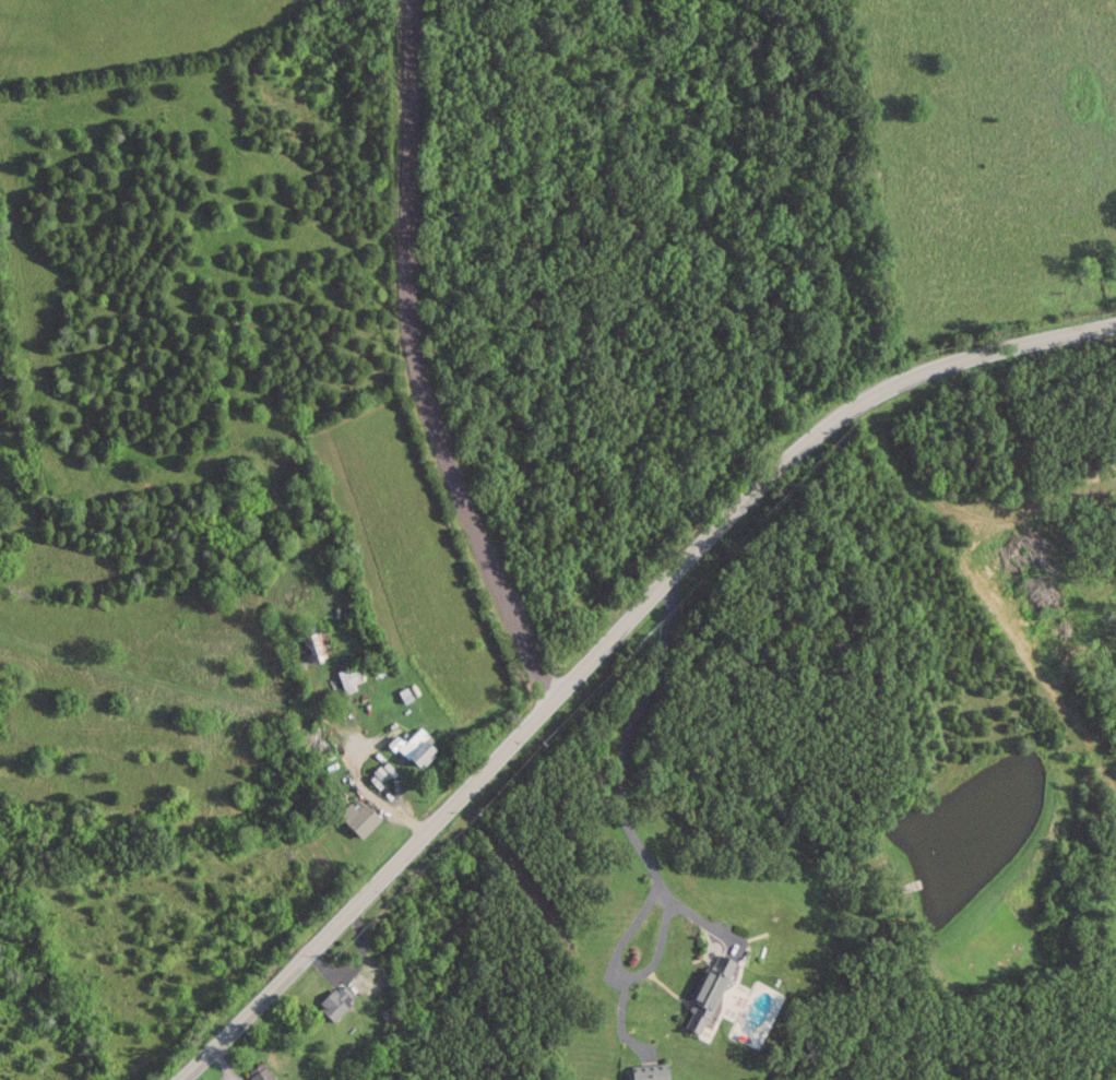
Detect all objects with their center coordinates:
road: (414, 361)
road: (604, 634)
building: (304, 648)
building: (348, 678)
building: (313, 747)
building: (415, 747)
building: (360, 817)
road: (636, 842)
building: (710, 990)
building: (337, 999)
building: (261, 1071)
building: (651, 1072)

